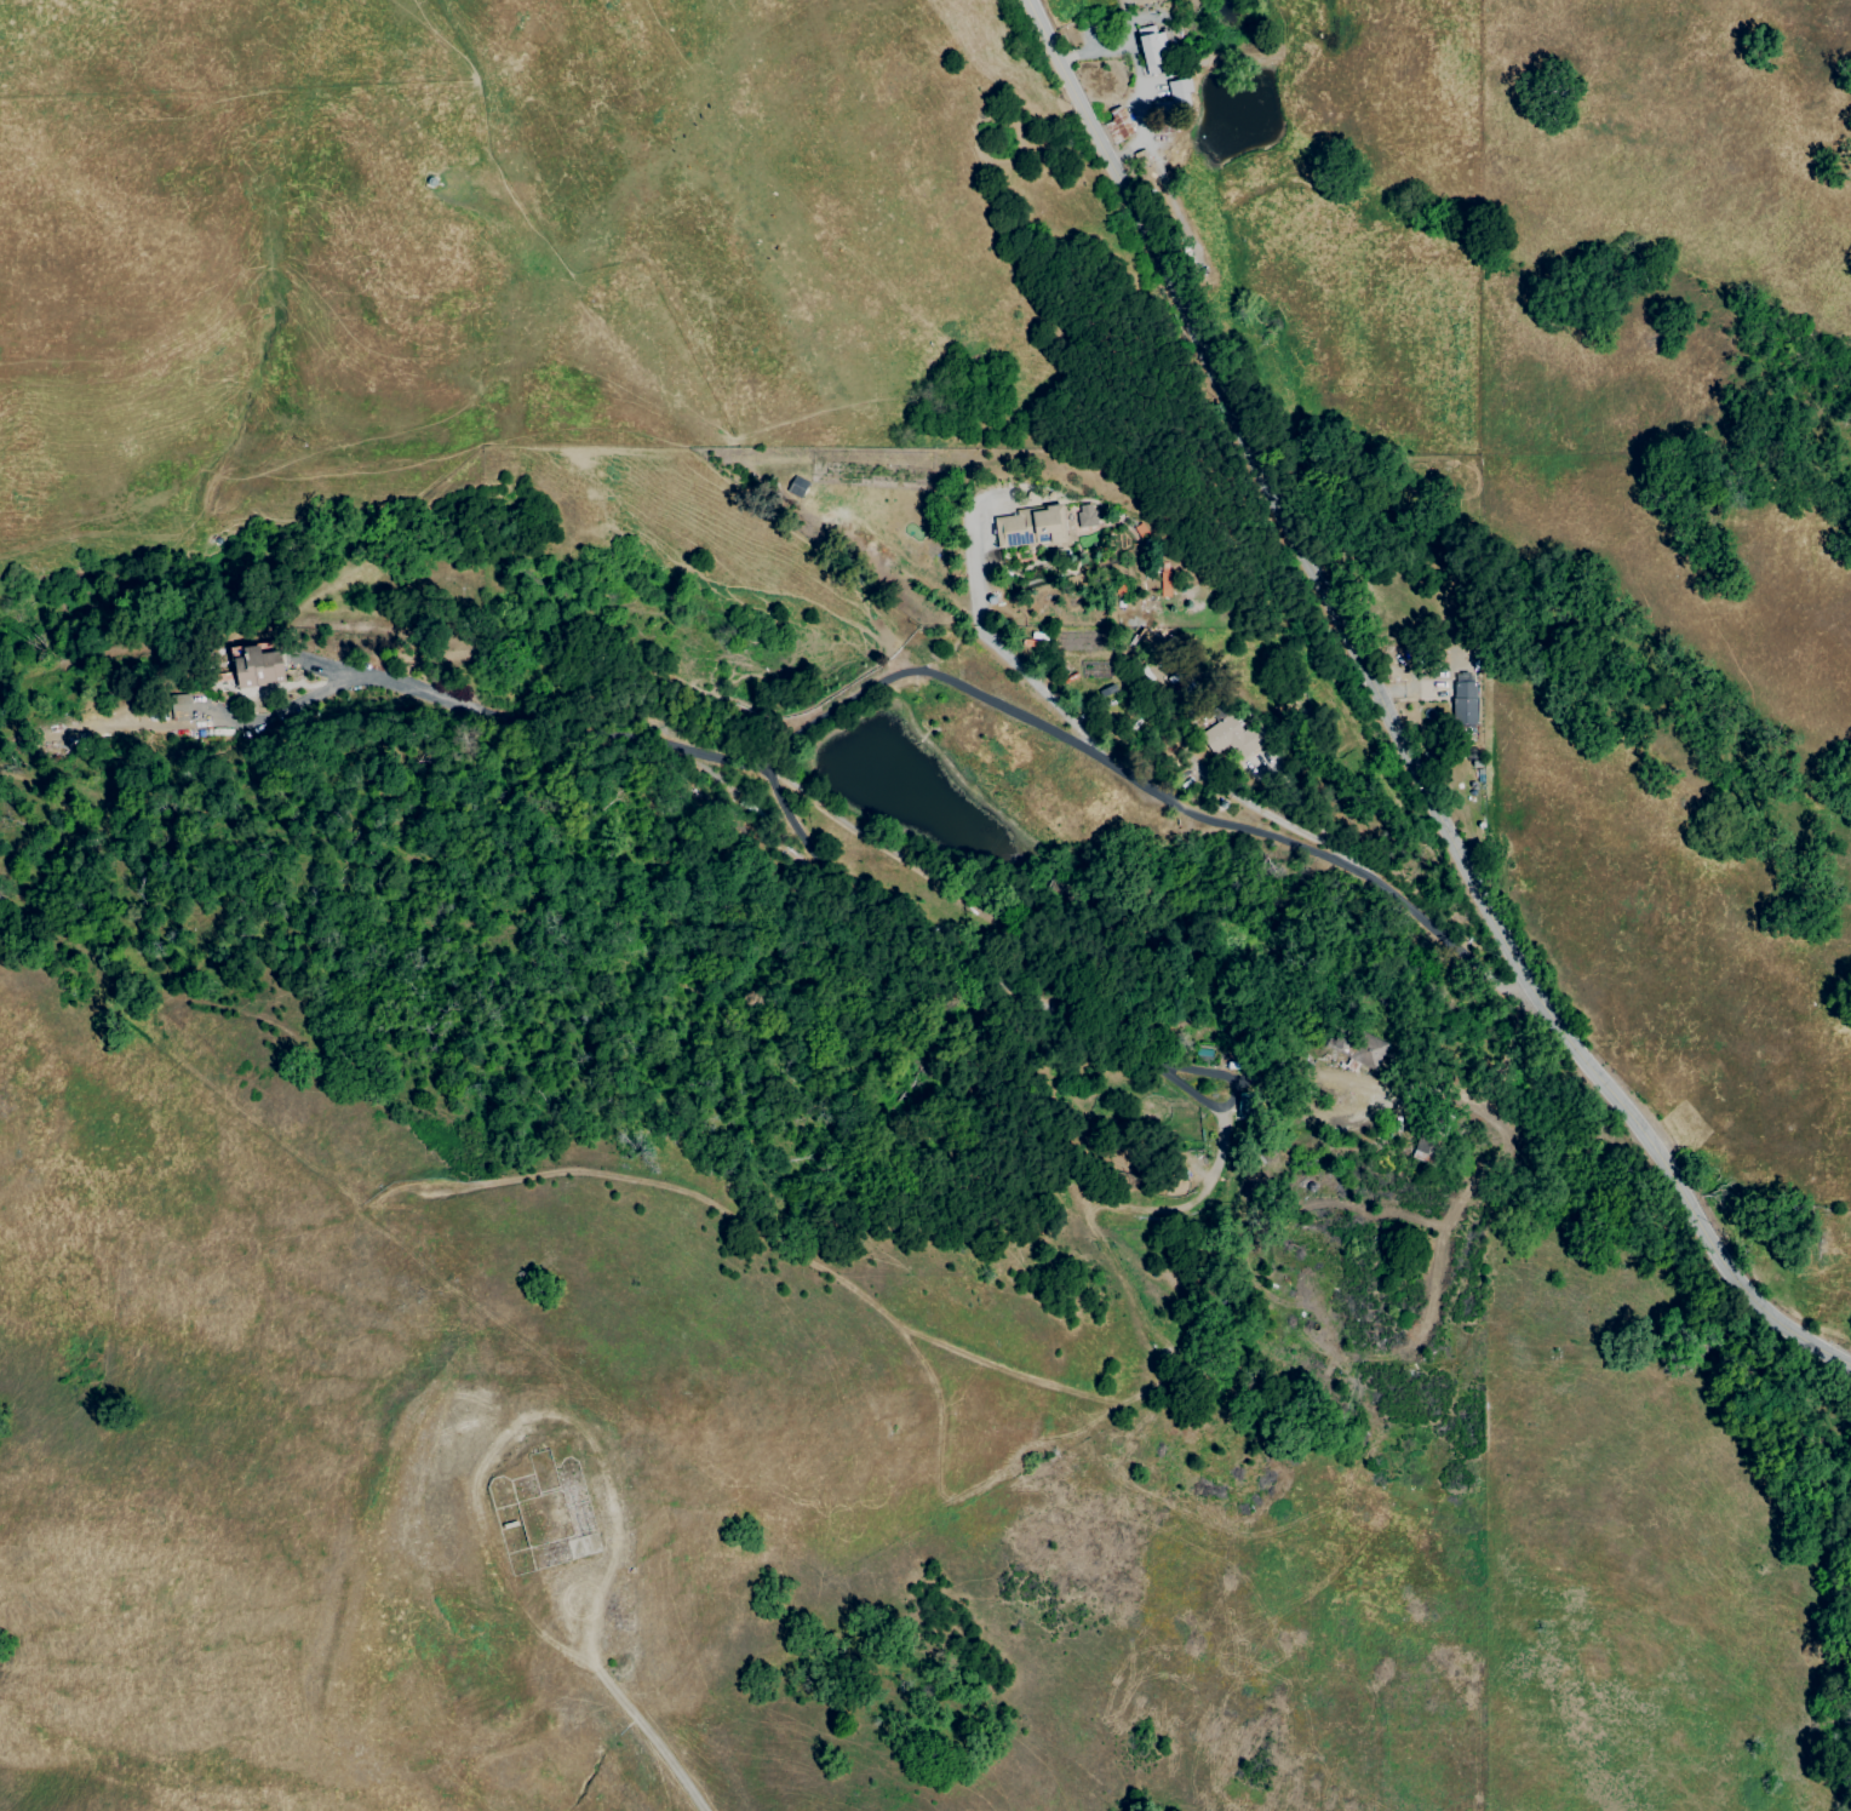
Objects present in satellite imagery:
building: (1156, 44)
road: (1139, 75)
building: (1177, 91)
building: (1121, 122)
building: (1084, 514)
building: (1033, 521)
road: (1002, 651)
building: (260, 663)
building: (1465, 694)
road: (480, 700)
building: (179, 706)
road: (1388, 721)
building: (1240, 738)
road: (1145, 792)
road: (1263, 813)
road: (1117, 1043)
building: (1369, 1047)
building: (1205, 1050)
building: (1422, 1150)
road: (596, 1669)

